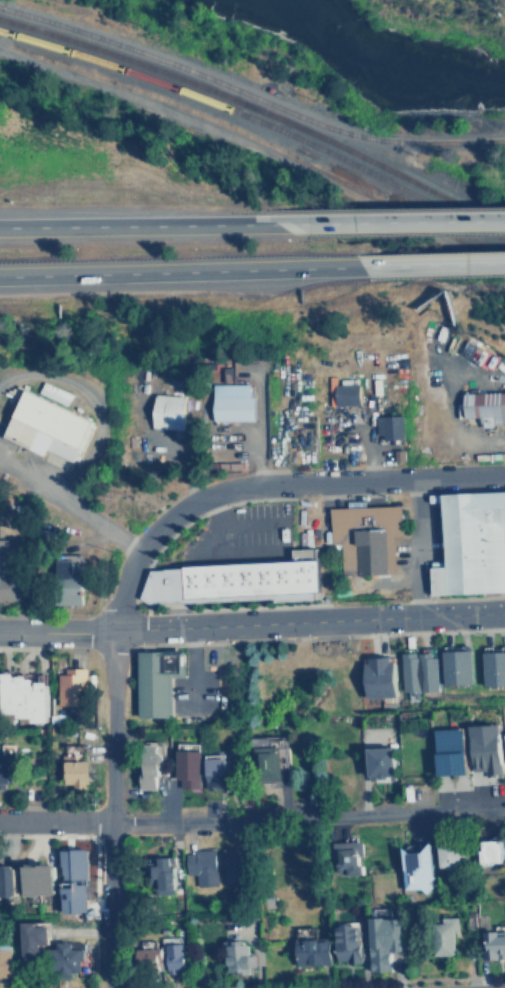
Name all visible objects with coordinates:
park: (440, 21)
railway: (122, 58)
railway: (258, 122)
railway: (258, 139)
railway: (371, 139)
railway: (375, 163)
road: (386, 216)
road: (134, 220)
road: (433, 260)
road: (180, 265)
building: (344, 391)
building: (230, 402)
building: (484, 408)
building: (165, 412)
building: (387, 426)
building: (43, 427)
road: (267, 481)
road: (69, 500)
road: (250, 526)
parking lot: (240, 535)
building: (365, 537)
building: (463, 544)
parking lot: (503, 551)
road: (213, 553)
building: (8, 575)
building: (237, 579)
building: (66, 582)
road: (252, 623)
building: (461, 665)
building: (447, 666)
building: (487, 666)
building: (499, 666)
building: (418, 670)
building: (376, 675)
building: (155, 678)
building: (69, 686)
building: (22, 694)
building: (489, 743)
building: (456, 747)
building: (376, 760)
building: (147, 762)
building: (212, 764)
building: (263, 764)
building: (6, 765)
building: (185, 766)
building: (73, 771)
road: (107, 808)
road: (252, 817)
building: (490, 851)
building: (451, 855)
building: (349, 856)
building: (202, 866)
building: (418, 867)
building: (234, 868)
building: (36, 876)
building: (163, 876)
building: (6, 879)
building: (68, 880)
building: (445, 935)
building: (34, 939)
building: (385, 941)
building: (349, 942)
building: (495, 944)
building: (313, 951)
building: (150, 955)
building: (176, 958)
building: (239, 958)
building: (66, 959)
building: (5, 962)

